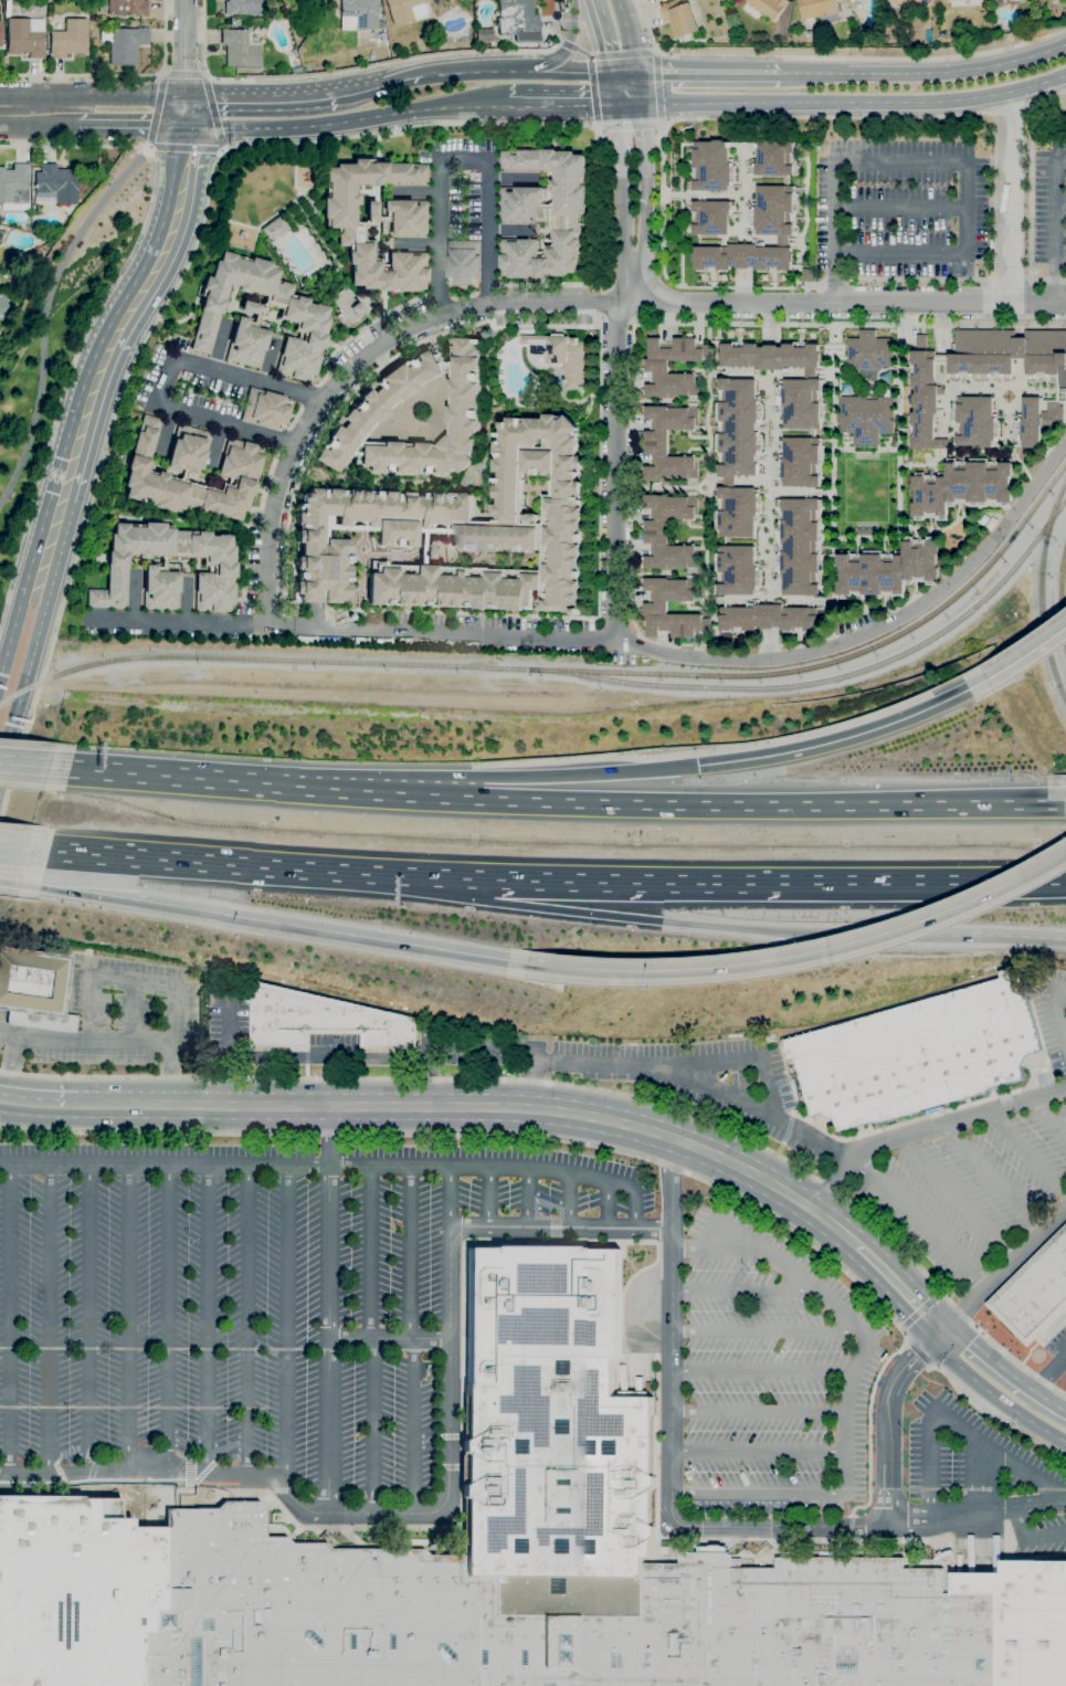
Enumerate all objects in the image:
building: (298, 0)
building: (300, 0)
building: (849, 0)
building: (852, 0)
building: (946, 0)
building: (993, 0)
building: (1000, 1)
building: (906, 3)
building: (963, 3)
building: (769, 7)
building: (127, 8)
building: (242, 8)
building: (404, 10)
building: (820, 10)
building: (358, 14)
building: (679, 18)
building: (518, 20)
building: (0, 34)
building: (484, 35)
road: (601, 35)
road: (626, 35)
building: (24, 36)
building: (67, 40)
building: (124, 45)
building: (239, 48)
road: (183, 49)
road: (572, 49)
road: (622, 54)
road: (563, 55)
road: (834, 56)
road: (366, 69)
road: (201, 72)
road: (514, 72)
road: (180, 73)
traffic signals: (610, 73)
road: (622, 73)
traffic signals: (635, 73)
road: (925, 73)
road: (707, 74)
road: (117, 75)
road: (400, 75)
road: (205, 78)
road: (1038, 83)
road: (657, 86)
road: (358, 88)
road: (613, 88)
road: (637, 88)
road: (592, 91)
road: (119, 93)
road: (1047, 96)
traffic signals: (186, 97)
road: (260, 98)
road: (825, 102)
road: (1059, 103)
road: (560, 104)
traffic signals: (618, 104)
road: (629, 104)
traffic signals: (640, 104)
road: (1009, 106)
road: (155, 108)
road: (30, 110)
road: (187, 112)
road: (212, 112)
road: (823, 116)
road: (346, 119)
road: (627, 124)
road: (122, 125)
traffic signals: (188, 126)
road: (1048, 135)
road: (182, 147)
road: (222, 147)
road: (220, 150)
road: (1011, 151)
building: (775, 158)
road: (941, 158)
road: (456, 159)
building: (714, 166)
building: (55, 186)
building: (13, 187)
road: (621, 188)
road: (644, 188)
road: (1031, 190)
road: (993, 194)
road: (599, 204)
road: (1062, 206)
parking lot: (1049, 207)
parking lot: (899, 208)
road: (899, 208)
building: (543, 213)
building: (713, 217)
road: (1057, 224)
building: (404, 228)
building: (274, 229)
building: (777, 231)
road: (1011, 233)
road: (198, 236)
road: (1062, 254)
building: (463, 262)
road: (1011, 277)
road: (835, 278)
road: (919, 278)
road: (1038, 280)
road: (1055, 280)
road: (1065, 280)
road: (669, 282)
road: (1011, 282)
road: (549, 284)
road: (625, 286)
road: (487, 287)
road: (463, 295)
road: (437, 297)
road: (814, 301)
road: (995, 301)
road: (1038, 301)
road: (601, 303)
road: (1026, 303)
building: (3, 307)
building: (346, 308)
road: (45, 313)
road: (127, 313)
road: (96, 314)
railway: (50, 315)
building: (300, 317)
road: (486, 319)
road: (616, 322)
road: (849, 323)
road: (357, 330)
park: (61, 339)
building: (921, 340)
building: (869, 350)
building: (559, 356)
building: (657, 366)
road: (165, 379)
building: (801, 386)
building: (989, 389)
road: (308, 396)
building: (369, 408)
building: (265, 409)
building: (866, 418)
road: (294, 419)
road: (298, 436)
road: (215, 442)
road: (282, 442)
building: (656, 442)
building: (738, 455)
road: (615, 460)
building: (801, 462)
building: (191, 473)
building: (962, 486)
park: (865, 493)
building: (983, 520)
road: (245, 521)
building: (992, 523)
road: (1003, 526)
building: (458, 531)
building: (656, 531)
building: (866, 531)
road: (48, 546)
building: (800, 546)
building: (167, 568)
building: (888, 569)
building: (738, 570)
road: (631, 577)
railway: (1042, 591)
railway: (1060, 597)
road: (133, 600)
road: (182, 604)
building: (656, 608)
road: (598, 613)
building: (771, 618)
road: (11, 628)
road: (440, 631)
road: (1027, 655)
road: (1, 658)
road: (769, 660)
railway: (836, 660)
railway: (258, 661)
railway: (831, 678)
traffic signals: (988, 679)
road: (24, 682)
road: (847, 736)
road: (21, 758)
road: (23, 765)
traffic signals: (699, 765)
road: (157, 774)
road: (484, 777)
road: (666, 803)
road: (13, 847)
road: (230, 862)
road: (606, 877)
road: (922, 879)
road: (8, 883)
road: (76, 892)
road: (642, 918)
road: (333, 931)
road: (961, 936)
road: (806, 955)
road: (128, 981)
building: (34, 990)
road: (1055, 1004)
road: (133, 1012)
building: (321, 1019)
parking lot: (231, 1021)
parking lot: (119, 1024)
road: (9, 1034)
parking lot: (334, 1039)
road: (96, 1040)
road: (228, 1053)
road: (353, 1053)
building: (918, 1053)
road: (733, 1062)
road: (12, 1067)
road: (656, 1073)
parking lot: (668, 1073)
road: (176, 1074)
road: (530, 1084)
road: (582, 1087)
road: (4, 1099)
road: (42, 1104)
road: (178, 1105)
road: (583, 1115)
road: (1048, 1116)
road: (923, 1130)
road: (486, 1135)
road: (329, 1136)
road: (1026, 1153)
road: (163, 1166)
road: (469, 1167)
parking lot: (981, 1172)
road: (992, 1177)
road: (958, 1195)
road: (636, 1197)
road: (490, 1199)
road: (529, 1199)
road: (451, 1200)
road: (571, 1203)
road: (610, 1208)
road: (920, 1216)
road: (560, 1231)
road: (758, 1246)
road: (717, 1248)
road: (1001, 1265)
road: (897, 1285)
road: (740, 1289)
building: (1035, 1292)
parking lot: (266, 1306)
road: (923, 1310)
road: (11, 1323)
road: (51, 1323)
road: (92, 1323)
road: (129, 1323)
road: (170, 1324)
road: (210, 1324)
road: (249, 1324)
road: (287, 1326)
traffic signals: (937, 1326)
road: (764, 1332)
road: (389, 1339)
road: (327, 1340)
road: (371, 1340)
road: (413, 1340)
parking lot: (1056, 1347)
road: (921, 1353)
road: (908, 1361)
road: (1001, 1369)
road: (760, 1376)
road: (849, 1376)
road: (1048, 1376)
road: (991, 1392)
parking lot: (819, 1404)
road: (758, 1414)
road: (991, 1416)
road: (953, 1424)
road: (757, 1453)
road: (887, 1464)
road: (982, 1476)
road: (758, 1494)
road: (358, 1515)
road: (677, 1522)
road: (1030, 1535)
building: (502, 1559)

